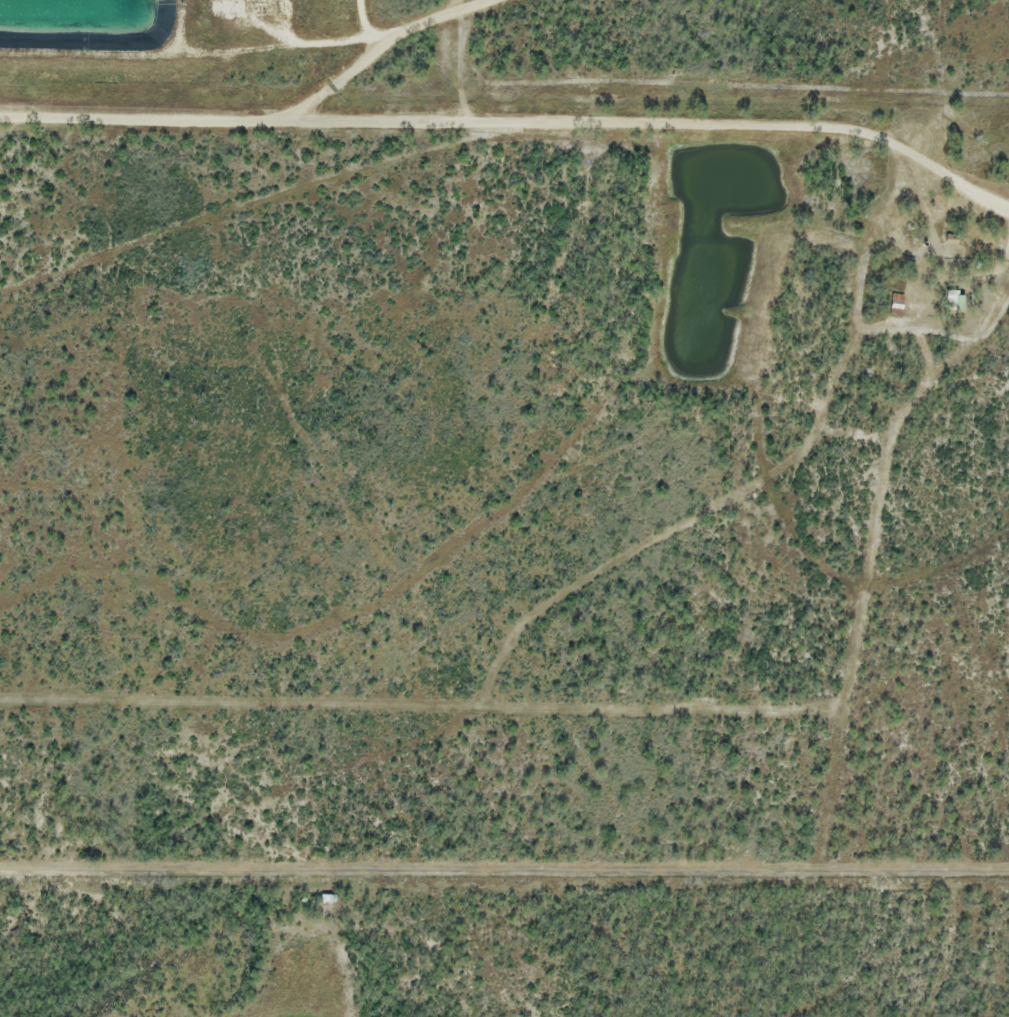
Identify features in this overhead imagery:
road: (514, 126)

